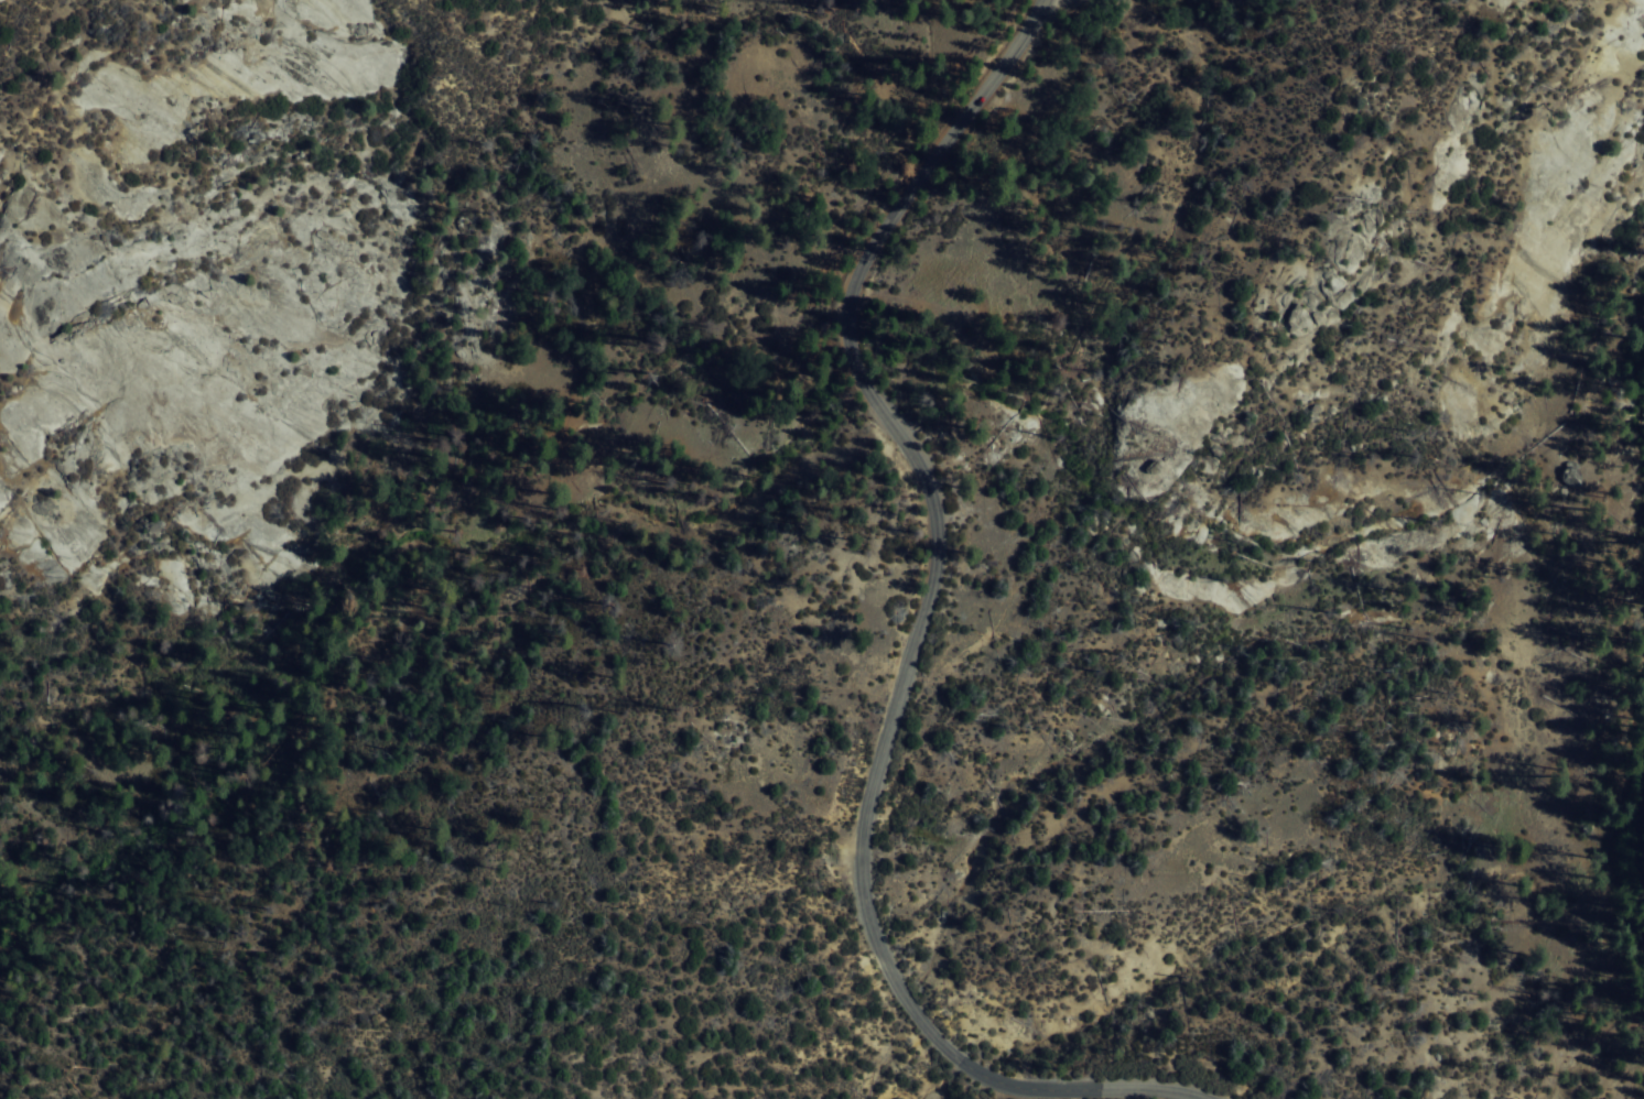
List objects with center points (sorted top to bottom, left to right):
parking lot: (1046, 2)
road: (912, 638)

